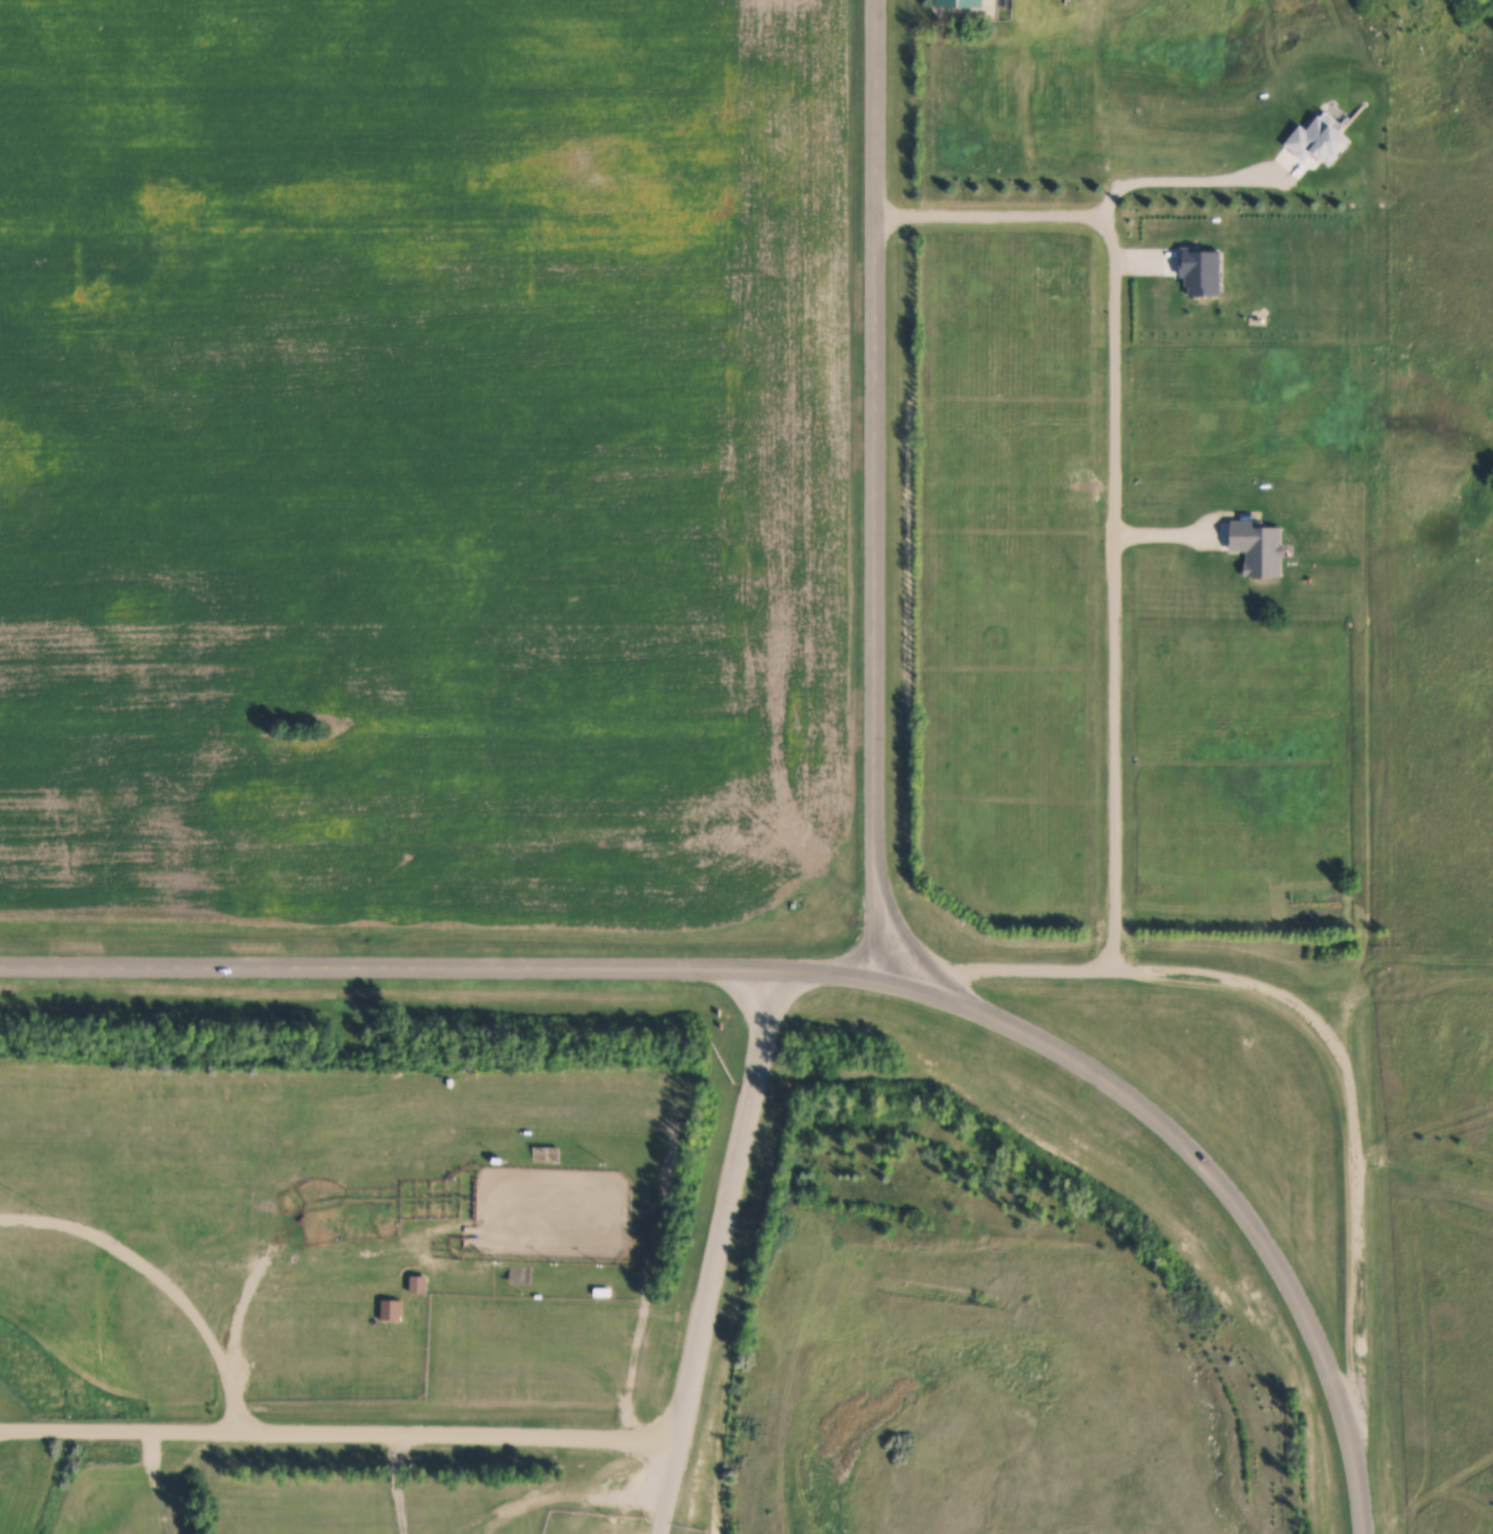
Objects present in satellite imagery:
building: (964, 2)
building: (1316, 163)
road: (1180, 183)
road: (990, 215)
road: (876, 489)
road: (1112, 593)
road: (472, 967)
road: (1393, 984)
road: (1338, 1044)
building: (545, 1154)
building: (498, 1160)
road: (1215, 1175)
road: (728, 1205)
building: (520, 1276)
building: (418, 1284)
building: (602, 1291)
road: (339, 1431)
road: (668, 1487)
road: (1363, 1501)

